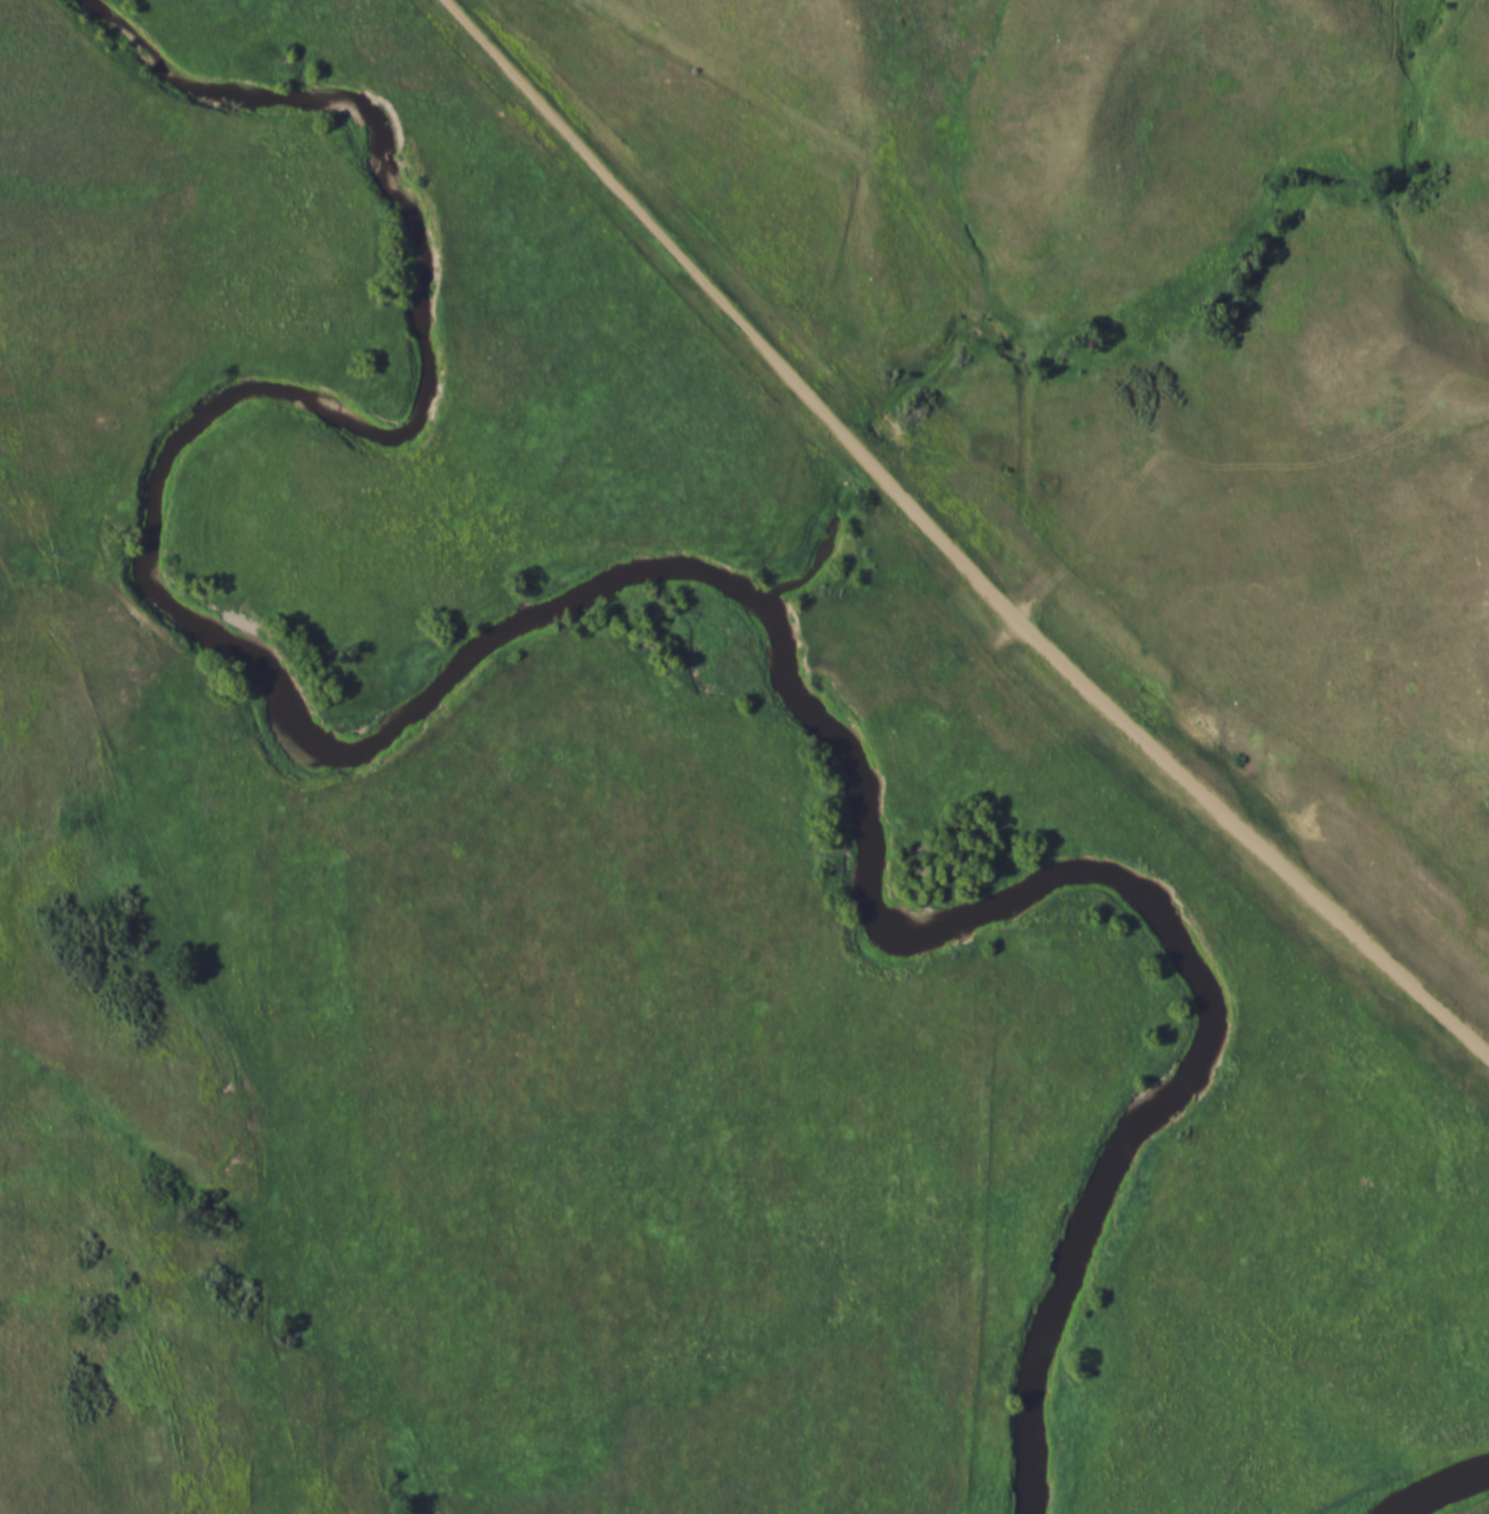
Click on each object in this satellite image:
road: (947, 548)
river: (536, 614)
road: (162, 634)
river: (1438, 1483)

